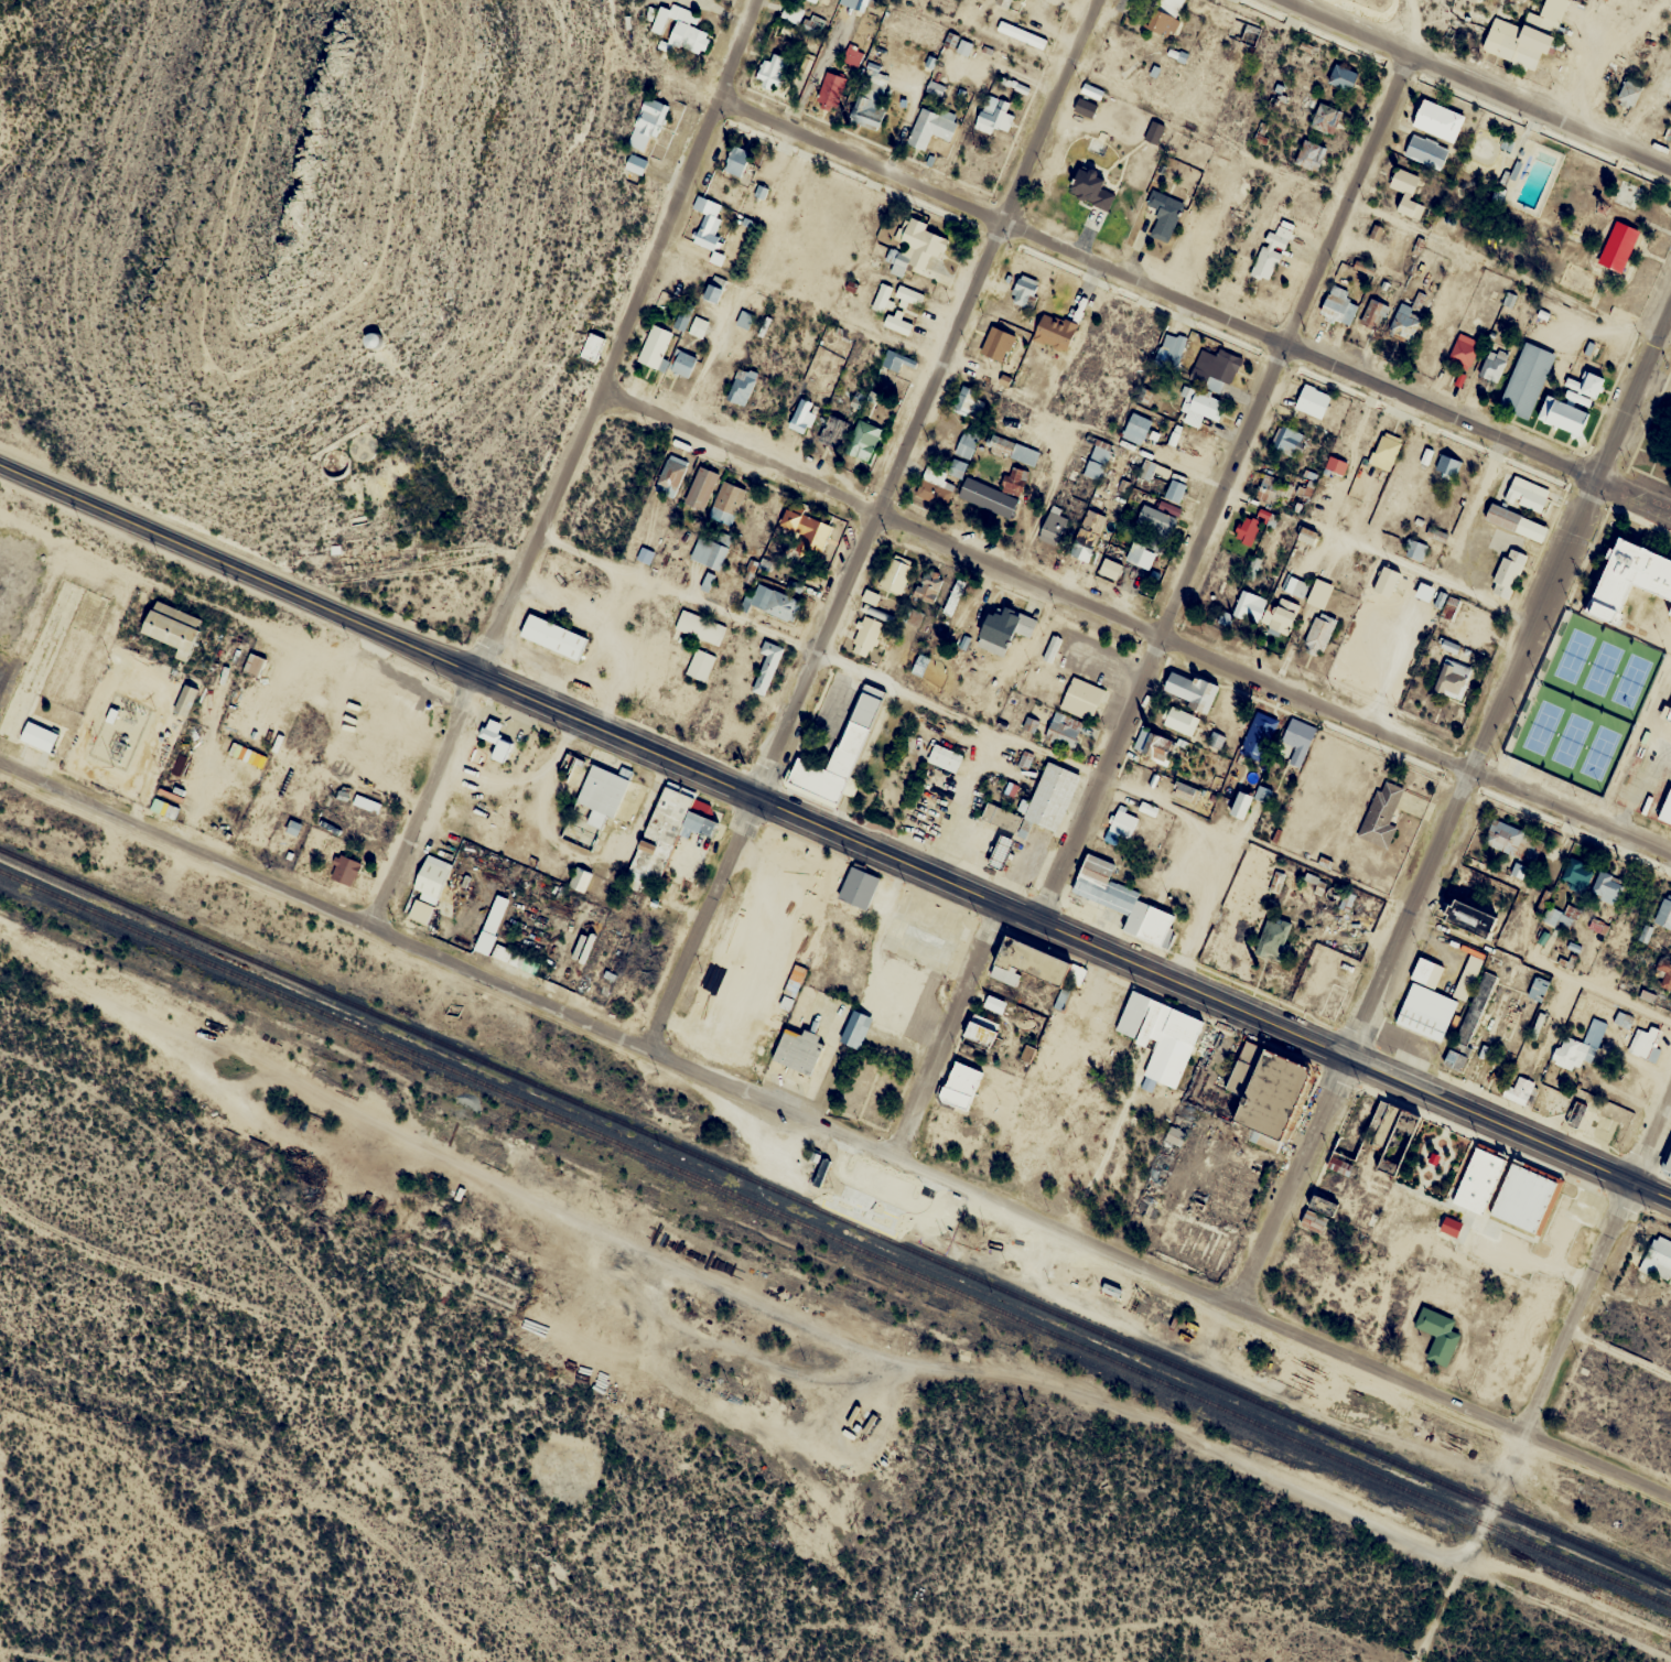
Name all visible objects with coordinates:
building: (812, 1)
building: (849, 2)
building: (1003, 2)
building: (791, 13)
building: (1613, 14)
building: (1165, 18)
building: (812, 23)
building: (680, 29)
building: (1022, 34)
building: (1250, 34)
building: (1524, 36)
building: (916, 47)
building: (853, 54)
building: (772, 71)
building: (874, 75)
building: (1338, 77)
road: (1477, 83)
building: (830, 89)
building: (1628, 93)
building: (994, 115)
building: (1320, 118)
building: (1438, 120)
building: (646, 125)
building: (930, 128)
building: (1426, 151)
building: (1304, 155)
building: (736, 161)
building: (635, 163)
building: (1090, 188)
building: (1408, 193)
building: (1164, 215)
park: (1577, 224)
building: (709, 233)
building: (1610, 247)
building: (916, 249)
building: (1263, 255)
building: (714, 289)
road: (1157, 290)
building: (1024, 291)
building: (1339, 305)
building: (897, 306)
building: (1372, 314)
building: (744, 320)
building: (681, 321)
building: (1405, 322)
building: (698, 327)
road: (473, 331)
building: (1054, 332)
building: (374, 341)
building: (996, 344)
building: (655, 347)
building: (1165, 348)
building: (1464, 349)
building: (895, 360)
building: (683, 364)
building: (1492, 365)
road: (255, 367)
building: (1208, 368)
building: (1527, 379)
building: (1592, 385)
building: (742, 386)
building: (958, 400)
building: (1306, 401)
building: (1192, 408)
building: (796, 415)
building: (1563, 415)
building: (1132, 429)
building: (824, 431)
building: (1286, 440)
building: (959, 443)
building: (856, 444)
building: (1386, 451)
building: (1017, 455)
building: (1098, 460)
road: (570, 465)
building: (1329, 465)
building: (1447, 465)
building: (950, 467)
building: (1145, 472)
building: (666, 475)
building: (1015, 479)
road: (1222, 486)
building: (1269, 486)
building: (694, 488)
building: (928, 489)
building: (1175, 490)
building: (1167, 492)
road: (1634, 493)
building: (1527, 494)
building: (981, 497)
building: (721, 503)
building: (1156, 519)
building: (1516, 522)
building: (1054, 525)
road: (870, 526)
building: (1252, 526)
building: (805, 528)
building: (1076, 547)
building: (710, 550)
building: (1415, 550)
building: (1134, 558)
road: (1379, 562)
building: (1110, 569)
building: (895, 573)
building: (1508, 573)
building: (1387, 581)
building: (1626, 582)
road: (1038, 586)
building: (1296, 586)
building: (928, 587)
building: (1425, 592)
building: (1313, 593)
building: (768, 603)
building: (1242, 606)
building: (1276, 615)
building: (696, 626)
building: (173, 628)
building: (1004, 629)
building: (1313, 633)
building: (546, 636)
building: (866, 636)
building: (1052, 649)
building: (693, 663)
building: (254, 665)
building: (762, 665)
building: (1448, 679)
building: (1190, 691)
building: (1081, 698)
building: (185, 701)
park: (1586, 703)
building: (1664, 711)
building: (710, 717)
road: (975, 720)
building: (1181, 722)
power substation: (119, 731)
building: (1064, 731)
building: (487, 738)
building: (1257, 738)
building: (1298, 740)
building: (1157, 747)
building: (831, 753)
building: (945, 758)
road: (672, 763)
building: (576, 773)
building: (596, 790)
building: (1185, 792)
building: (1043, 799)
building: (1241, 805)
road: (1457, 809)
road: (1573, 811)
building: (1661, 811)
building: (364, 813)
building: (1373, 816)
building: (992, 817)
building: (661, 818)
building: (1115, 823)
building: (693, 824)
building: (579, 832)
building: (1507, 841)
building: (995, 850)
building: (345, 871)
building: (1576, 875)
building: (580, 879)
building: (1097, 884)
building: (1607, 887)
building: (853, 888)
building: (427, 889)
building: (1663, 914)
building: (1470, 918)
building: (1142, 919)
building: (1274, 937)
building: (504, 952)
building: (1027, 962)
building: (1664, 972)
building: (1467, 976)
building: (1538, 988)
road: (1600, 991)
building: (989, 1003)
building: (1421, 1003)
building: (1624, 1019)
building: (1470, 1021)
building: (849, 1028)
road: (947, 1029)
building: (974, 1032)
road: (615, 1037)
building: (1154, 1037)
building: (1638, 1040)
building: (1572, 1044)
building: (791, 1051)
building: (956, 1086)
building: (1512, 1090)
building: (1261, 1092)
building: (1576, 1112)
building: (1568, 1113)
road: (1509, 1129)
building: (1175, 1135)
building: (1391, 1135)
building: (1664, 1162)
building: (817, 1163)
building: (1338, 1166)
building: (1473, 1179)
building: (1521, 1196)
building: (891, 1198)
railway: (835, 1215)
railway: (891, 1232)
railway: (834, 1235)
building: (1658, 1259)
road: (1599, 1269)
building: (1110, 1288)
building: (1432, 1334)
road: (1621, 1356)
road: (994, 1370)
road: (1451, 1402)
road: (1467, 1548)
road: (1241, 1642)

